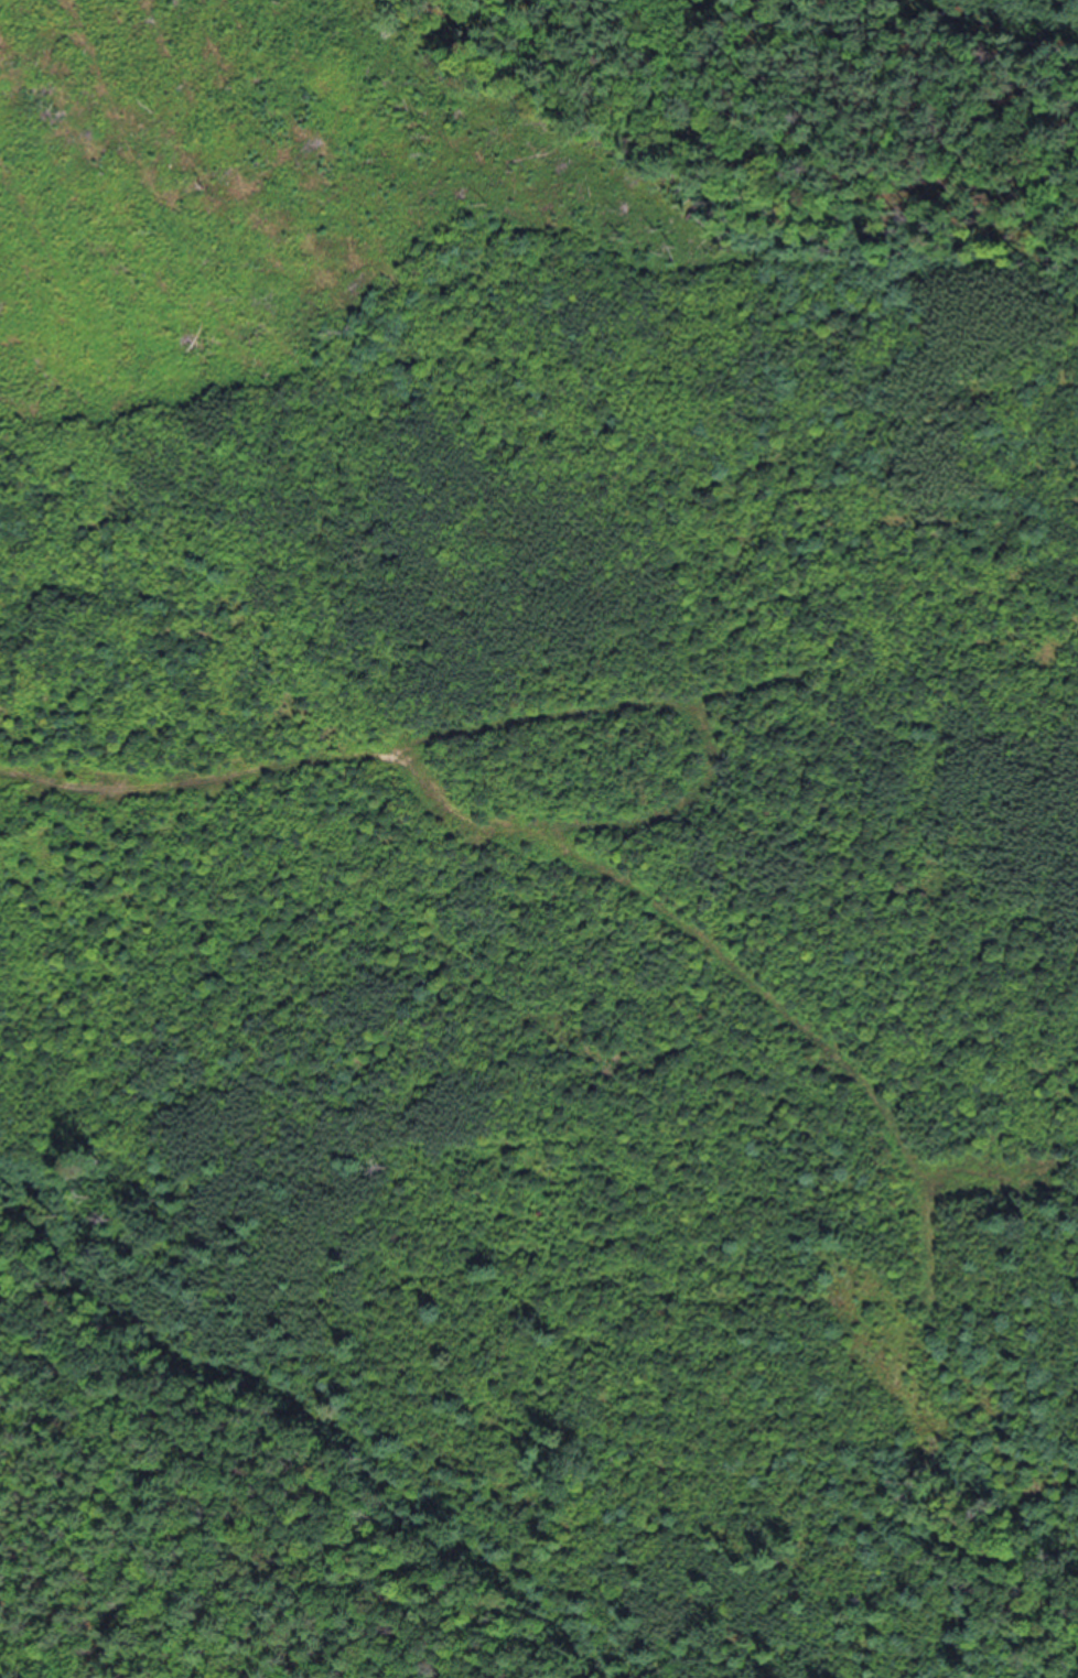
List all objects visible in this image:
park: (541, 1411)

